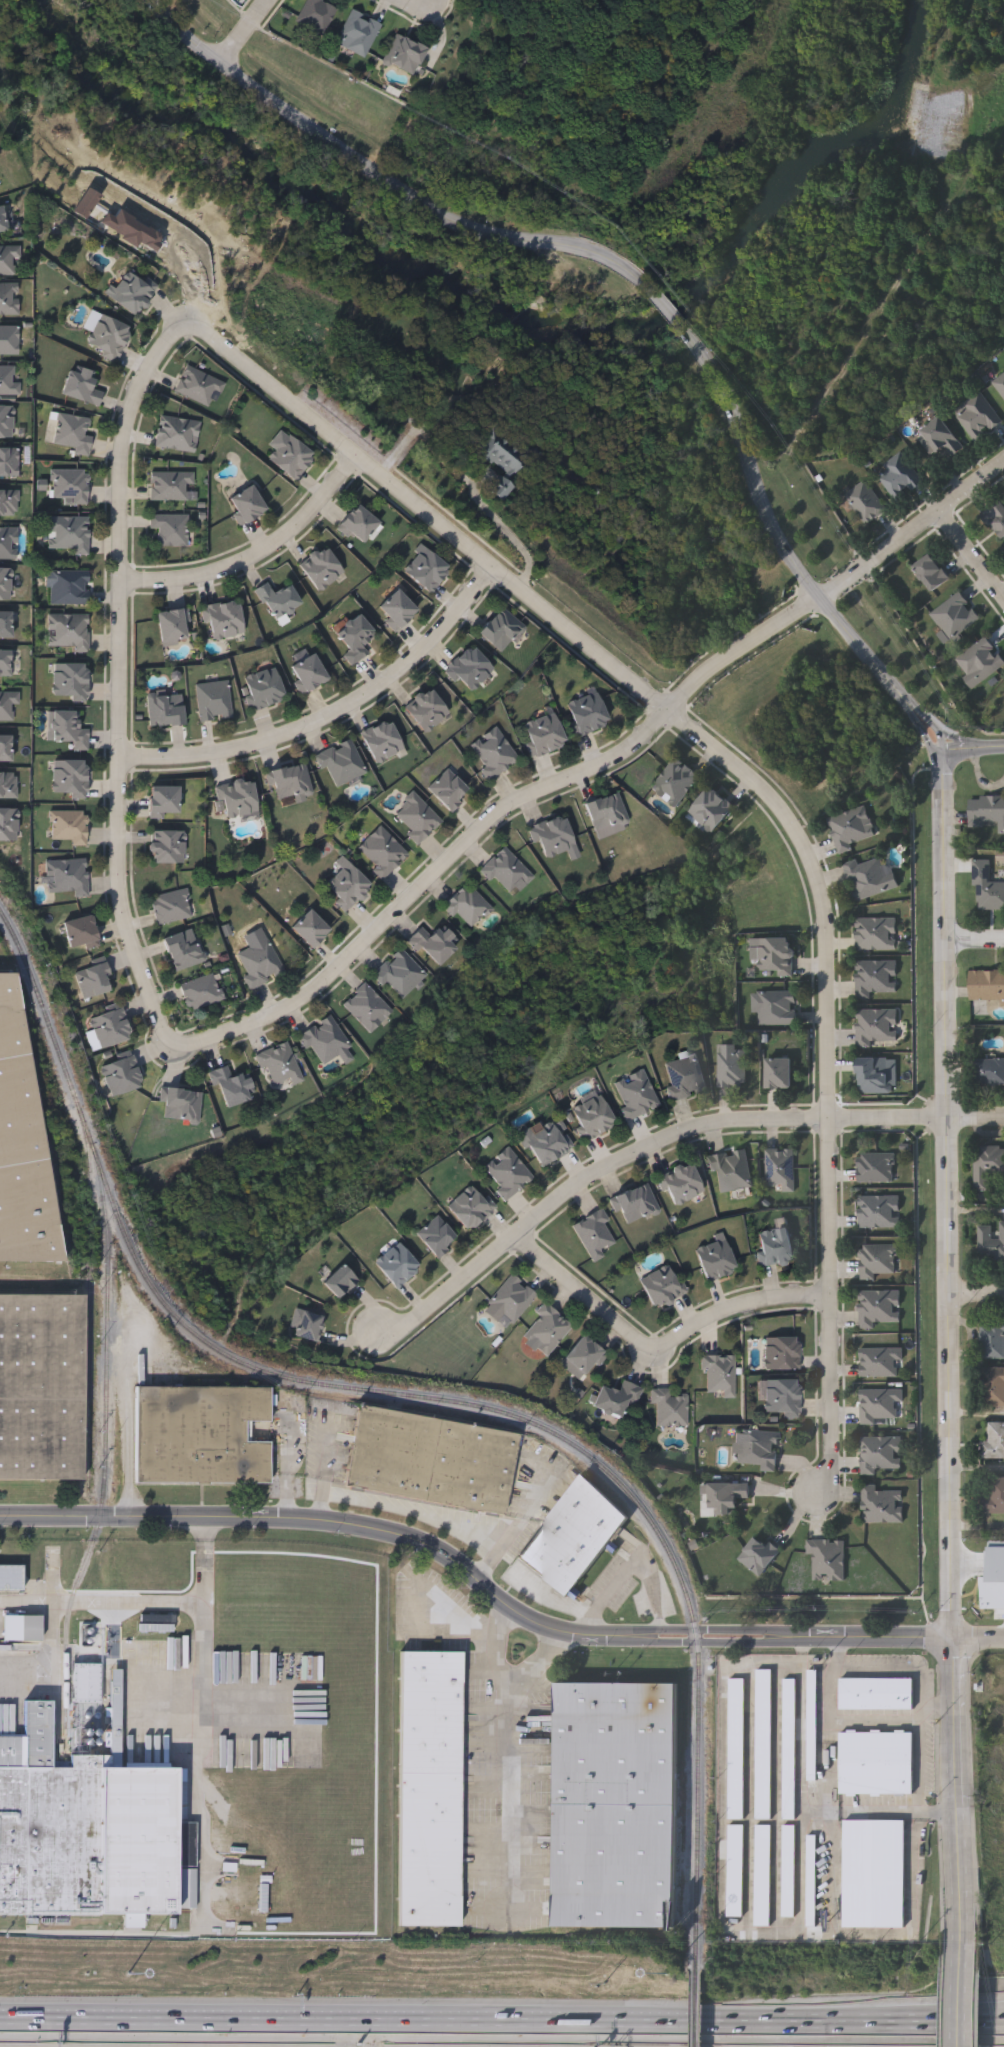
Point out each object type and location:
building: (315, 15)
road: (245, 33)
building: (357, 33)
building: (404, 54)
road: (382, 179)
building: (2, 220)
building: (8, 260)
building: (132, 290)
building: (9, 299)
road: (671, 316)
building: (106, 334)
building: (9, 340)
building: (8, 380)
building: (1000, 385)
building: (82, 386)
building: (198, 386)
building: (978, 417)
building: (6, 421)
building: (73, 433)
building: (176, 433)
building: (940, 438)
road: (400, 446)
building: (291, 456)
building: (501, 460)
building: (9, 462)
building: (899, 474)
building: (70, 485)
building: (170, 485)
building: (8, 502)
building: (866, 502)
building: (247, 504)
road: (481, 504)
building: (996, 519)
building: (358, 524)
building: (169, 528)
building: (67, 534)
road: (778, 536)
road: (912, 536)
building: (8, 543)
road: (256, 554)
road: (972, 556)
building: (322, 568)
building: (426, 568)
building: (932, 573)
building: (68, 587)
building: (278, 600)
building: (397, 610)
building: (954, 616)
building: (223, 620)
building: (5, 624)
building: (173, 626)
building: (500, 629)
building: (66, 631)
building: (355, 638)
building: (982, 660)
building: (4, 663)
building: (469, 670)
building: (308, 673)
road: (122, 678)
building: (69, 681)
building: (261, 689)
building: (213, 701)
building: (6, 704)
building: (164, 710)
building: (426, 710)
building: (585, 712)
road: (334, 716)
road: (930, 722)
road: (920, 728)
building: (67, 729)
building: (543, 734)
building: (381, 741)
road: (963, 742)
building: (5, 748)
road: (972, 752)
building: (492, 753)
building: (339, 763)
building: (68, 777)
building: (676, 781)
building: (290, 782)
building: (7, 784)
road: (758, 787)
building: (447, 789)
building: (236, 798)
building: (163, 800)
building: (712, 809)
building: (986, 813)
building: (608, 815)
building: (415, 817)
road: (492, 822)
building: (7, 824)
building: (67, 826)
building: (852, 829)
building: (554, 837)
building: (166, 847)
building: (381, 852)
building: (506, 870)
building: (66, 876)
building: (871, 877)
building: (347, 886)
building: (987, 888)
building: (169, 906)
building: (467, 906)
building: (309, 929)
building: (81, 933)
building: (876, 934)
road: (974, 941)
building: (433, 945)
building: (183, 949)
building: (777, 956)
building: (259, 963)
building: (400, 974)
building: (877, 978)
building: (93, 979)
building: (987, 986)
building: (200, 992)
building: (367, 1008)
building: (776, 1009)
building: (109, 1025)
building: (878, 1027)
building: (324, 1040)
building: (279, 1064)
building: (732, 1066)
building: (990, 1073)
building: (780, 1074)
building: (120, 1075)
building: (878, 1076)
building: (685, 1078)
building: (231, 1086)
building: (636, 1094)
building: (180, 1104)
building: (593, 1117)
road: (975, 1120)
building: (549, 1142)
building: (22, 1146)
road: (635, 1156)
building: (876, 1168)
building: (781, 1169)
building: (989, 1169)
building: (732, 1171)
building: (507, 1173)
building: (681, 1184)
building: (636, 1204)
building: (471, 1207)
building: (878, 1211)
building: (593, 1234)
building: (437, 1237)
building: (992, 1244)
building: (777, 1247)
railway: (90, 1258)
building: (716, 1260)
building: (877, 1261)
building: (397, 1265)
building: (340, 1282)
building: (663, 1286)
building: (509, 1299)
road: (976, 1299)
building: (880, 1308)
building: (307, 1326)
building: (546, 1329)
building: (993, 1338)
road: (949, 1345)
road: (658, 1351)
building: (783, 1354)
building: (584, 1356)
building: (880, 1362)
railway: (268, 1373)
building: (720, 1375)
building: (992, 1386)
building: (41, 1387)
building: (617, 1398)
building: (783, 1398)
building: (880, 1404)
building: (670, 1408)
road: (130, 1425)
building: (200, 1436)
building: (993, 1441)
road: (287, 1446)
building: (758, 1450)
building: (880, 1453)
railway: (106, 1455)
building: (432, 1460)
road: (325, 1462)
building: (993, 1495)
road: (287, 1498)
building: (723, 1498)
building: (881, 1505)
road: (320, 1509)
road: (527, 1510)
road: (414, 1514)
road: (335, 1525)
road: (204, 1530)
building: (574, 1536)
building: (758, 1556)
building: (827, 1559)
road: (487, 1562)
road: (629, 1568)
building: (11, 1579)
building: (990, 1583)
road: (135, 1605)
building: (33, 1627)
road: (668, 1631)
road: (740, 1631)
road: (869, 1638)
road: (670, 1640)
road: (741, 1640)
road: (979, 1640)
road: (840, 1654)
road: (803, 1662)
road: (750, 1664)
road: (51, 1667)
road: (533, 1667)
road: (898, 1671)
building: (88, 1683)
building: (876, 1694)
road: (942, 1703)
road: (844, 1722)
building: (812, 1733)
building: (764, 1745)
building: (736, 1749)
building: (790, 1750)
road: (919, 1758)
road: (490, 1759)
road: (197, 1760)
building: (876, 1764)
building: (429, 1789)
building: (616, 1805)
railway: (699, 1806)
road: (802, 1811)
road: (941, 1811)
road: (818, 1813)
road: (722, 1829)
building: (87, 1831)
building: (736, 1871)
building: (789, 1871)
building: (873, 1873)
building: (763, 1876)
building: (812, 1882)
building: (190, 1889)
road: (836, 1928)
building: (240, 1932)
road: (819, 1934)
road: (965, 1993)
railway: (699, 2010)
road: (457, 2021)
road: (960, 2021)

